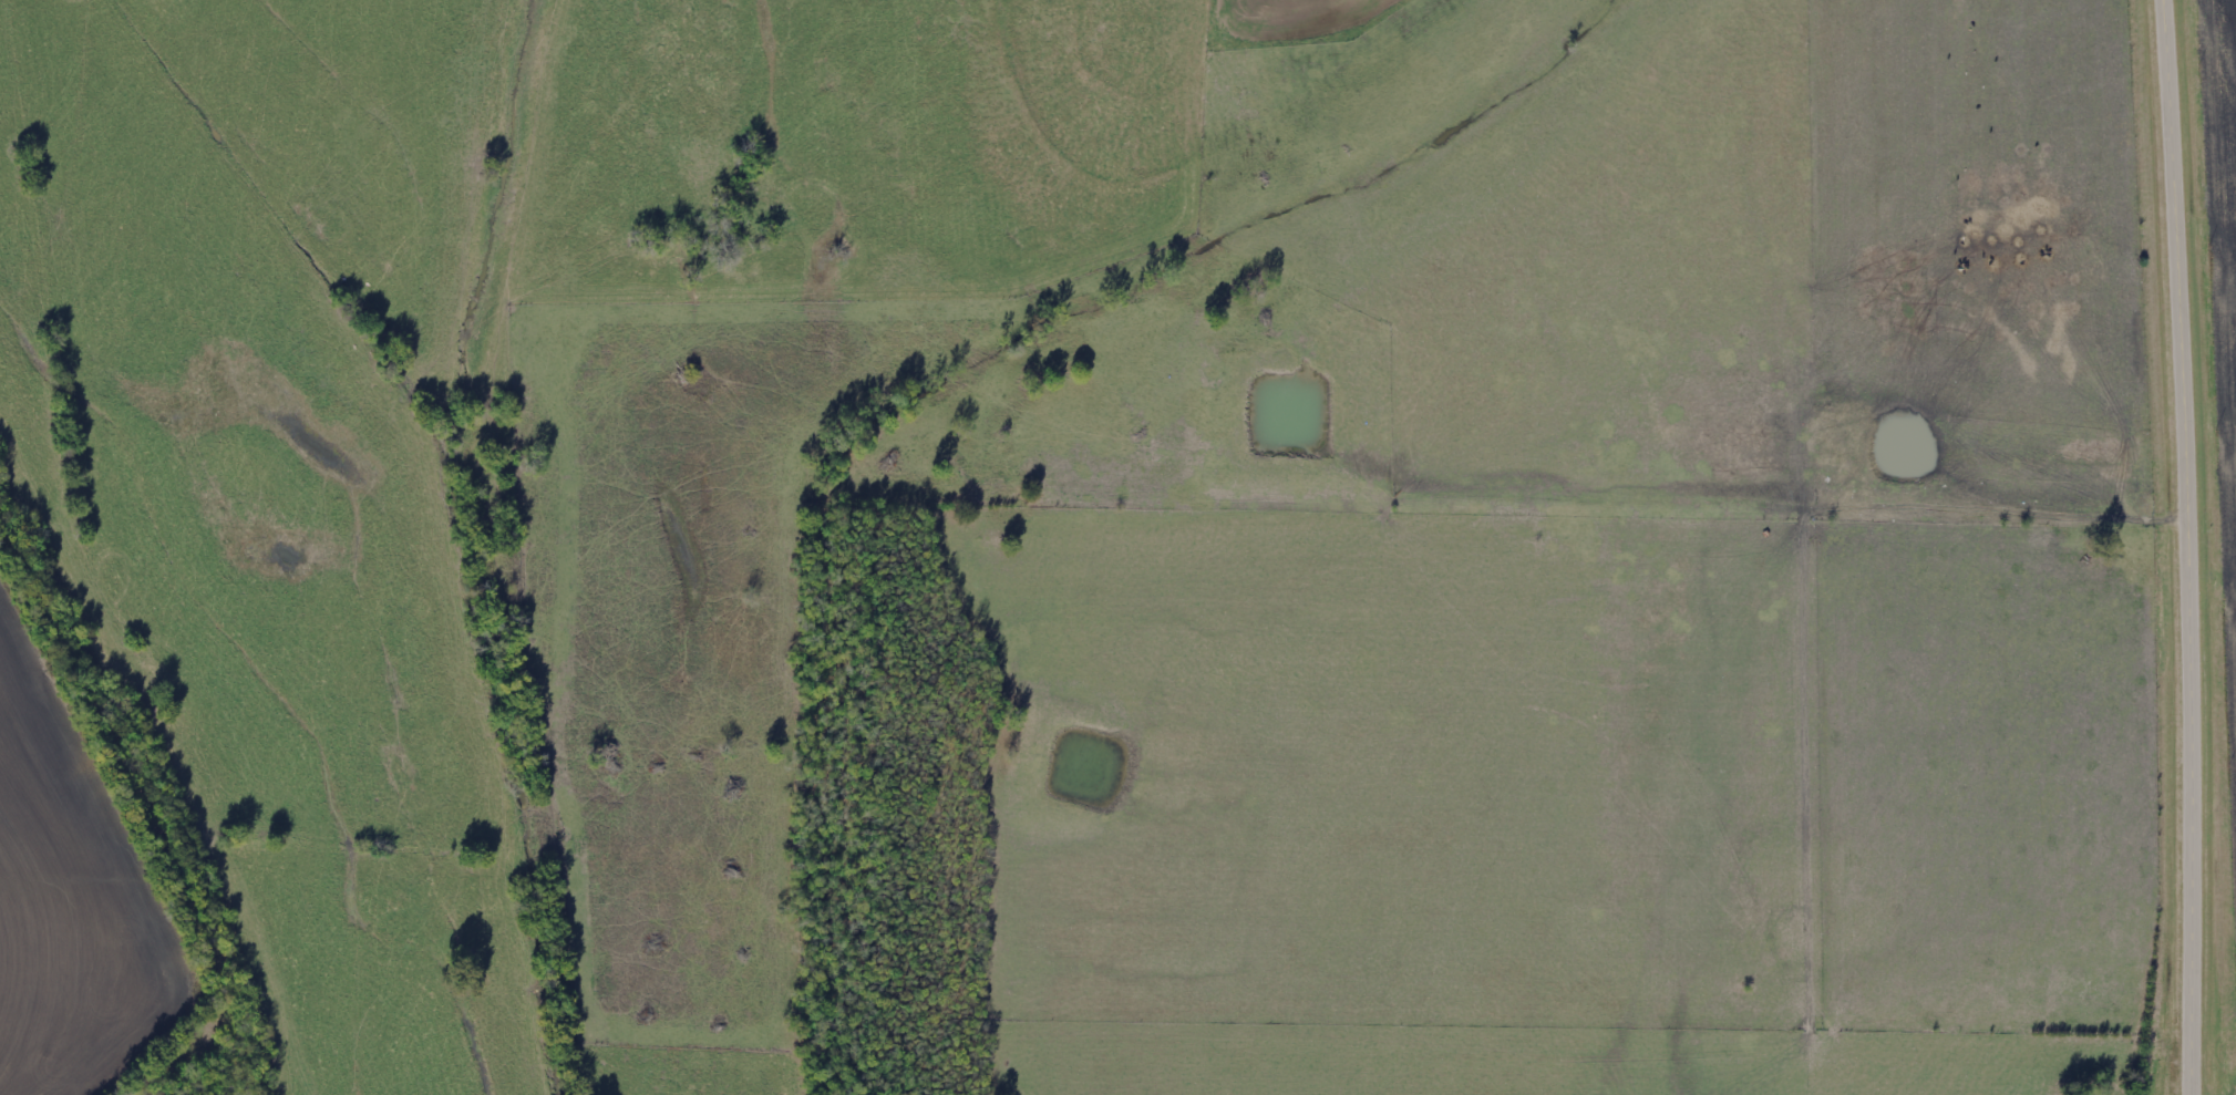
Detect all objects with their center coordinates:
road: (2189, 547)

